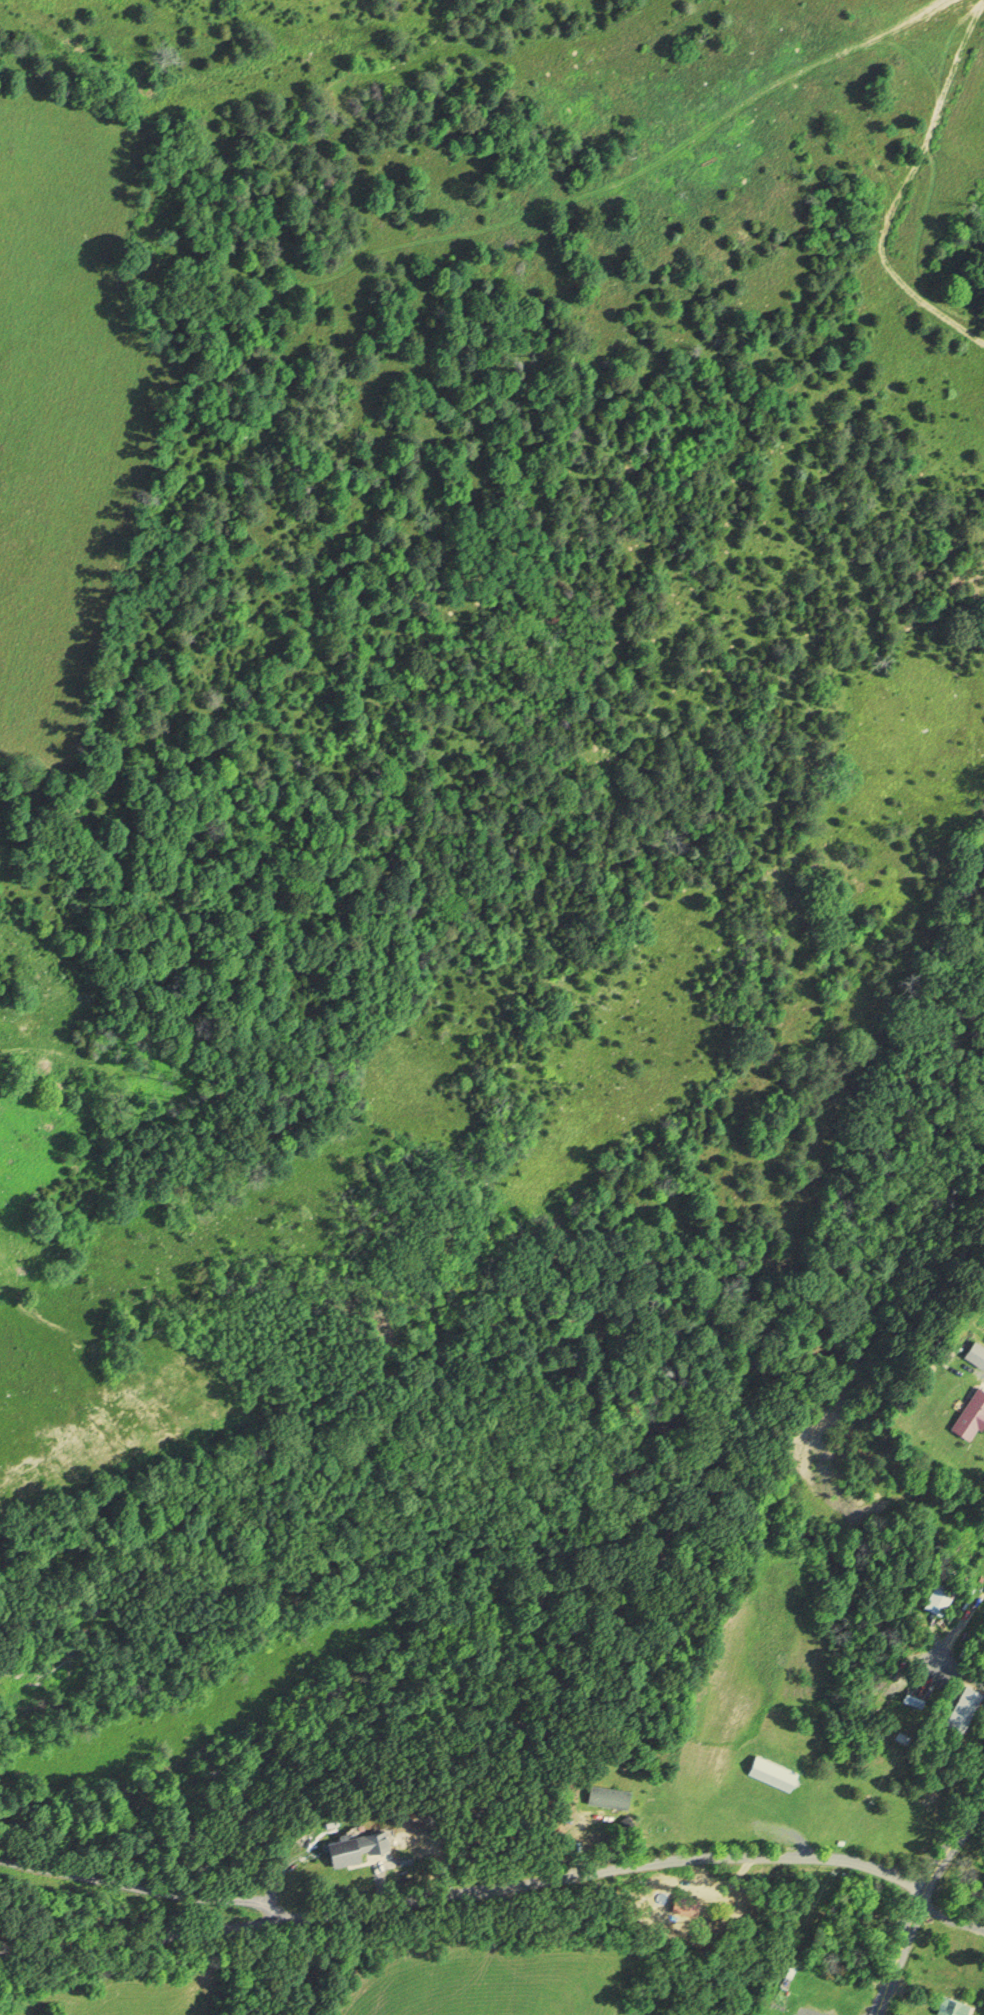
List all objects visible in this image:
building: (978, 1353)
building: (973, 1416)
building: (942, 1597)
building: (964, 1708)
building: (775, 1773)
road: (954, 1844)
building: (351, 1851)
road: (144, 1888)
road: (463, 1891)
road: (900, 1949)
road: (319, 1962)
building: (954, 2005)

